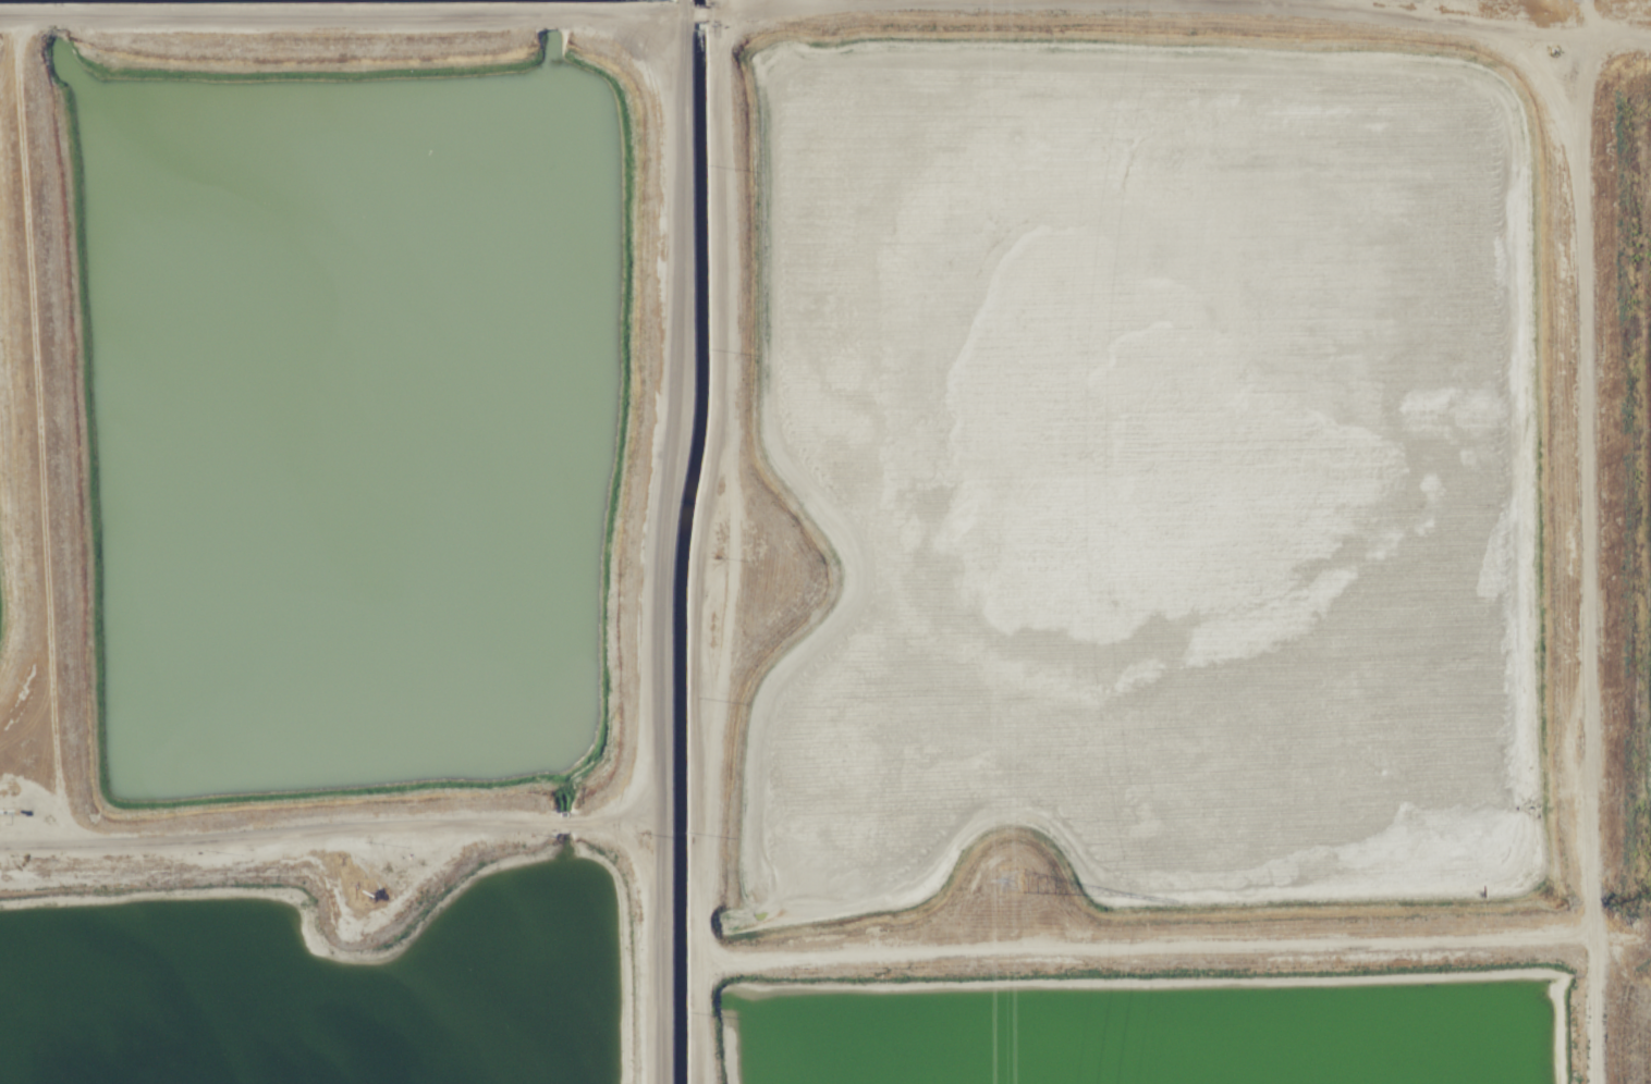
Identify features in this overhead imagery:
road: (340, 16)
wastewater plant: (350, 414)
road: (42, 430)
wastewater plant: (1136, 460)
wastewater plant: (1634, 496)
wastewater plant: (9, 504)
road: (659, 541)
wastewater plant: (825, 542)
road: (328, 828)
power tower: (1011, 879)
wastewater plant: (319, 980)
wastewater plant: (1639, 1028)
wastewater plant: (1149, 1034)

